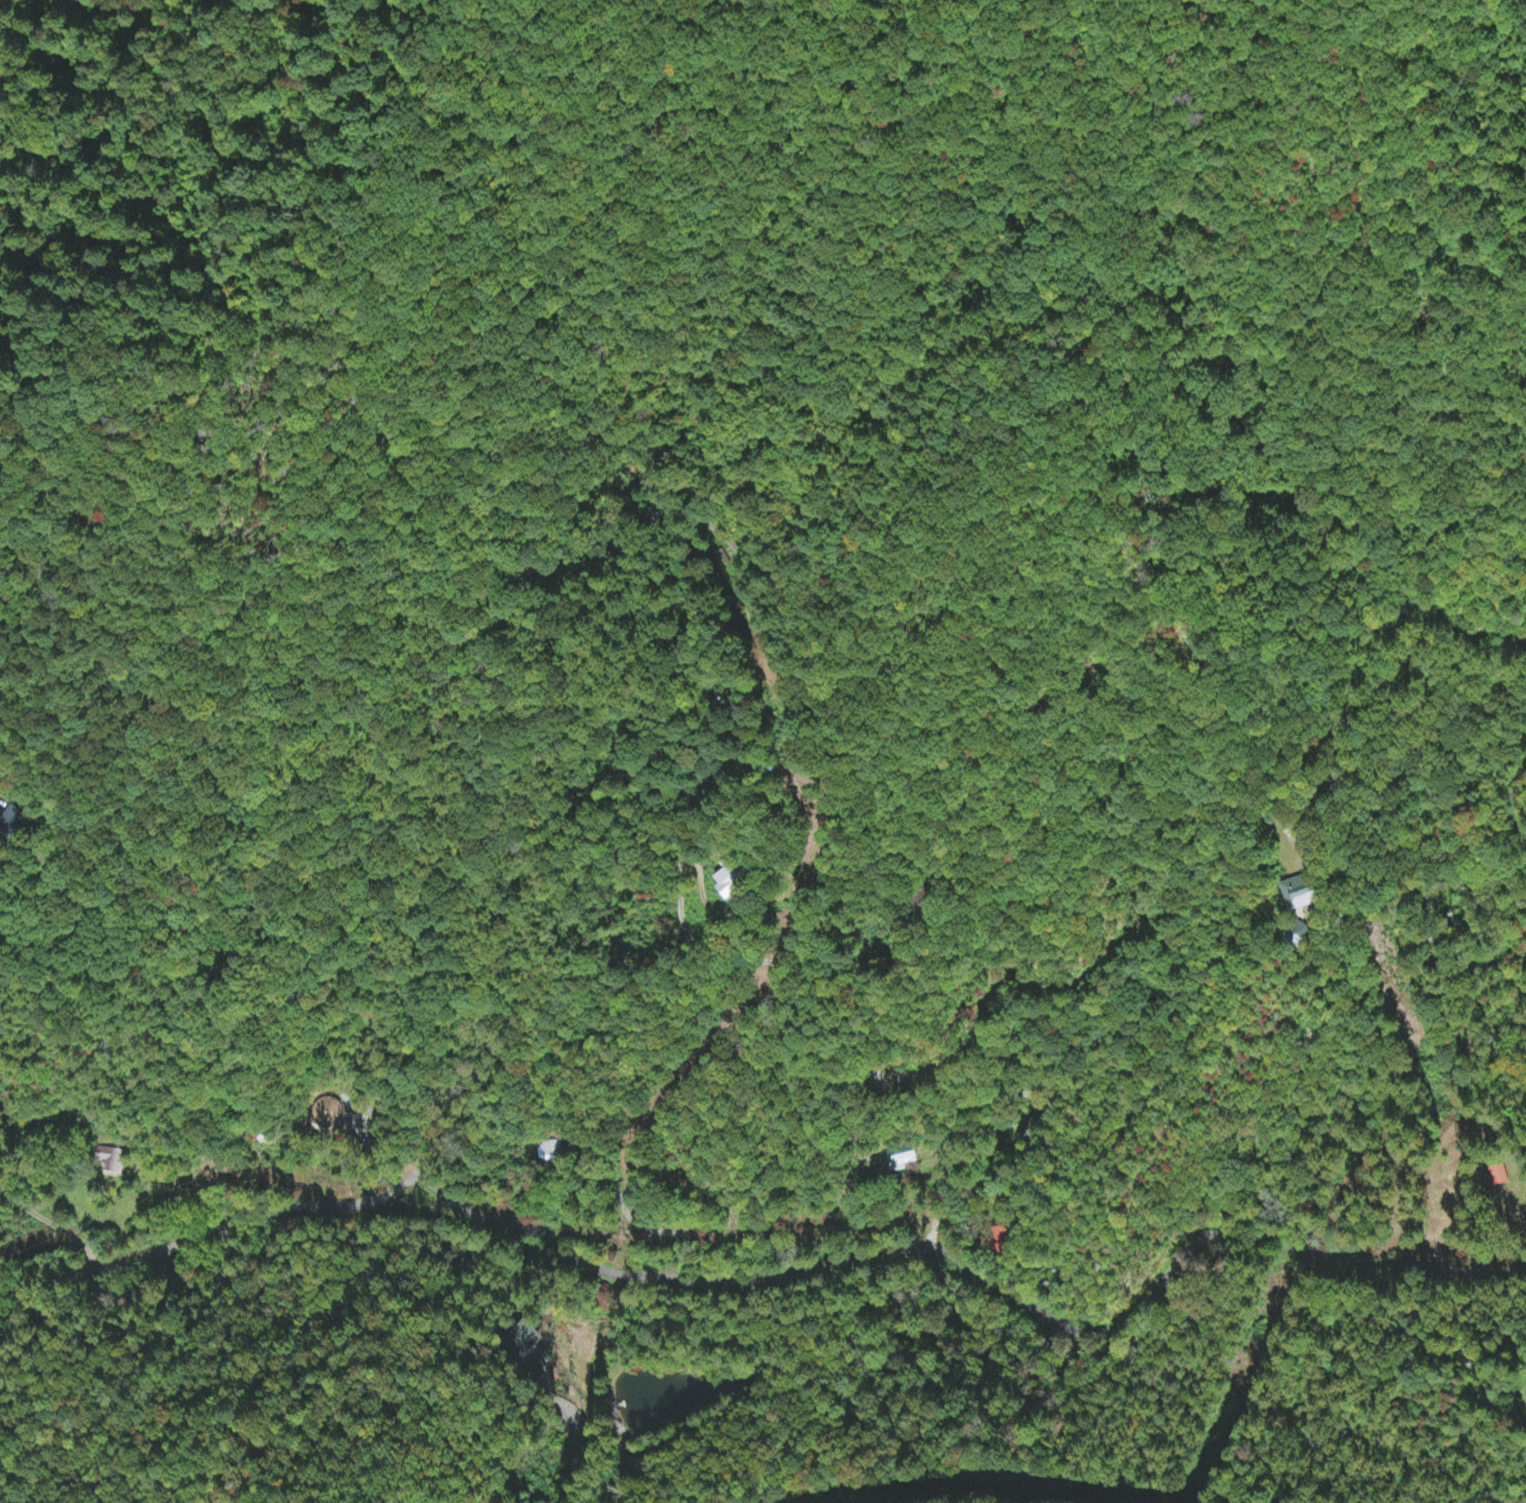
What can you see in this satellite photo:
road: (679, 786)
building: (15, 823)
building: (726, 885)
building: (1296, 895)
road: (1387, 1081)
building: (115, 1162)
road: (834, 1265)

